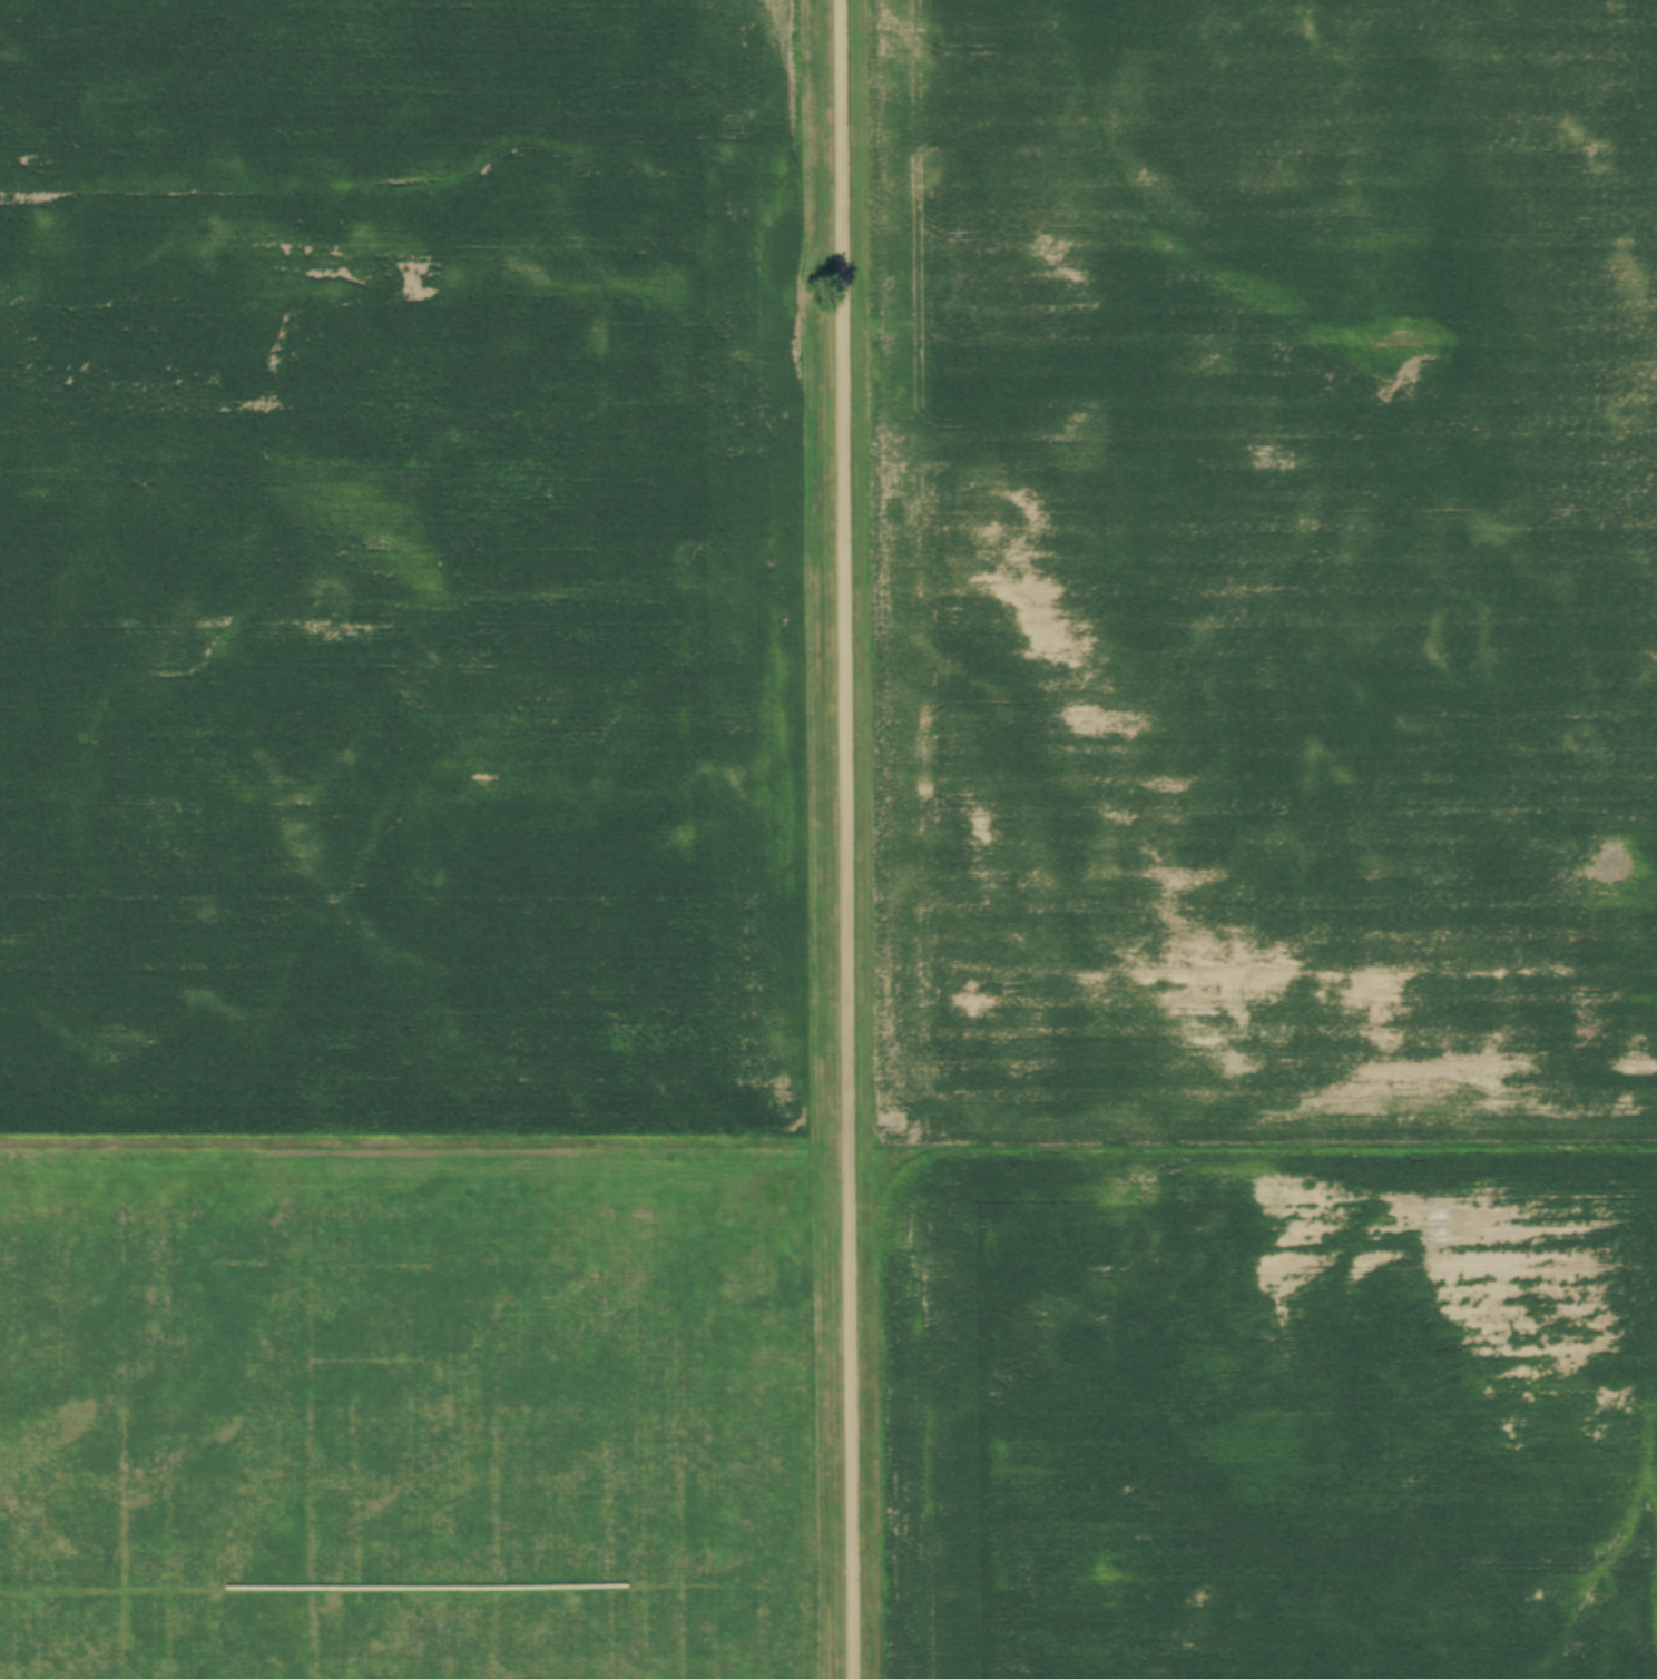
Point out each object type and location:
road: (846, 839)

